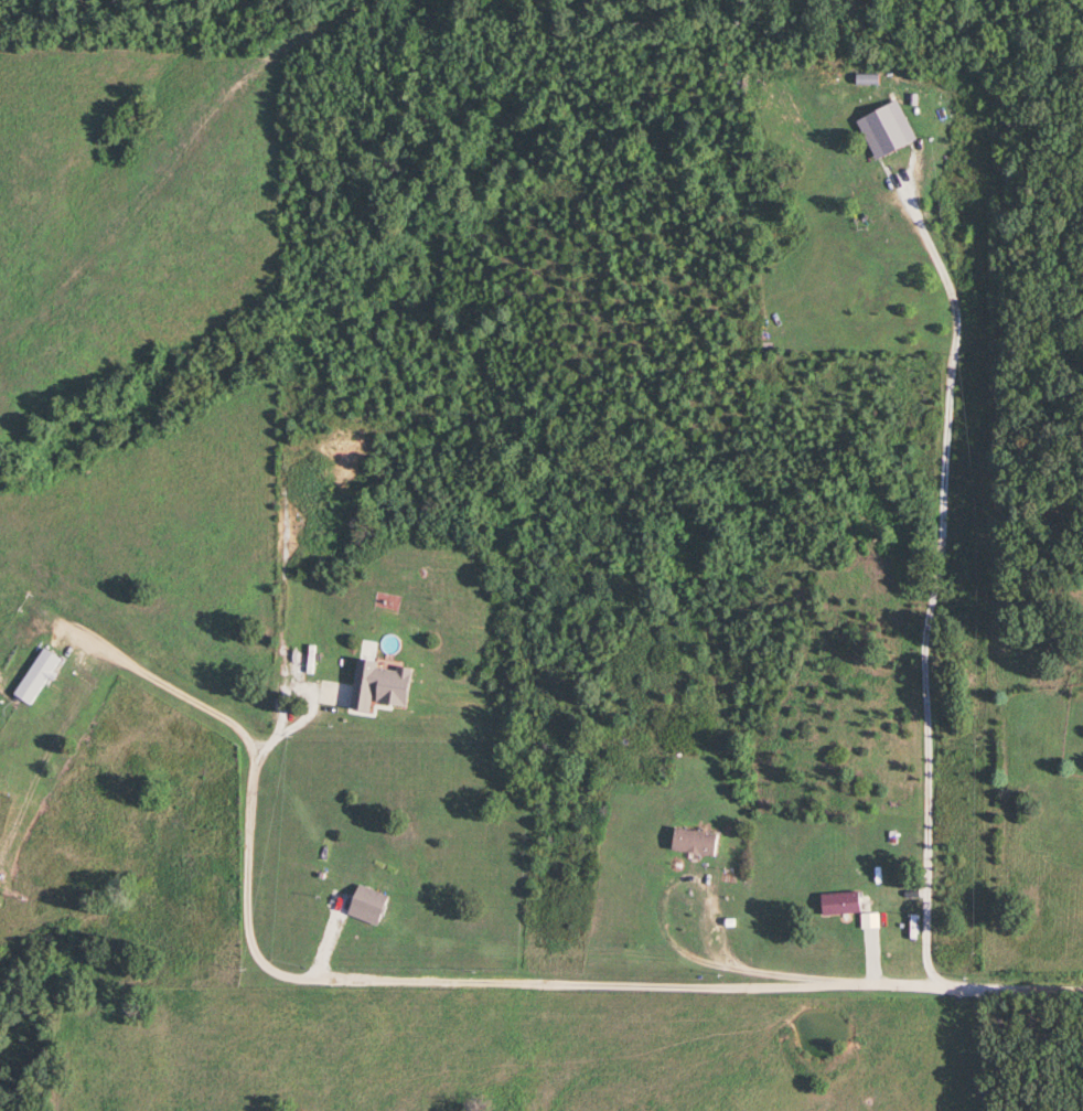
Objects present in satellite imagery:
building: (881, 122)
road: (934, 581)
building: (33, 677)
road: (311, 705)
building: (690, 843)
building: (322, 853)
building: (836, 905)
building: (364, 906)
road: (668, 938)
road: (354, 986)
road: (974, 991)

